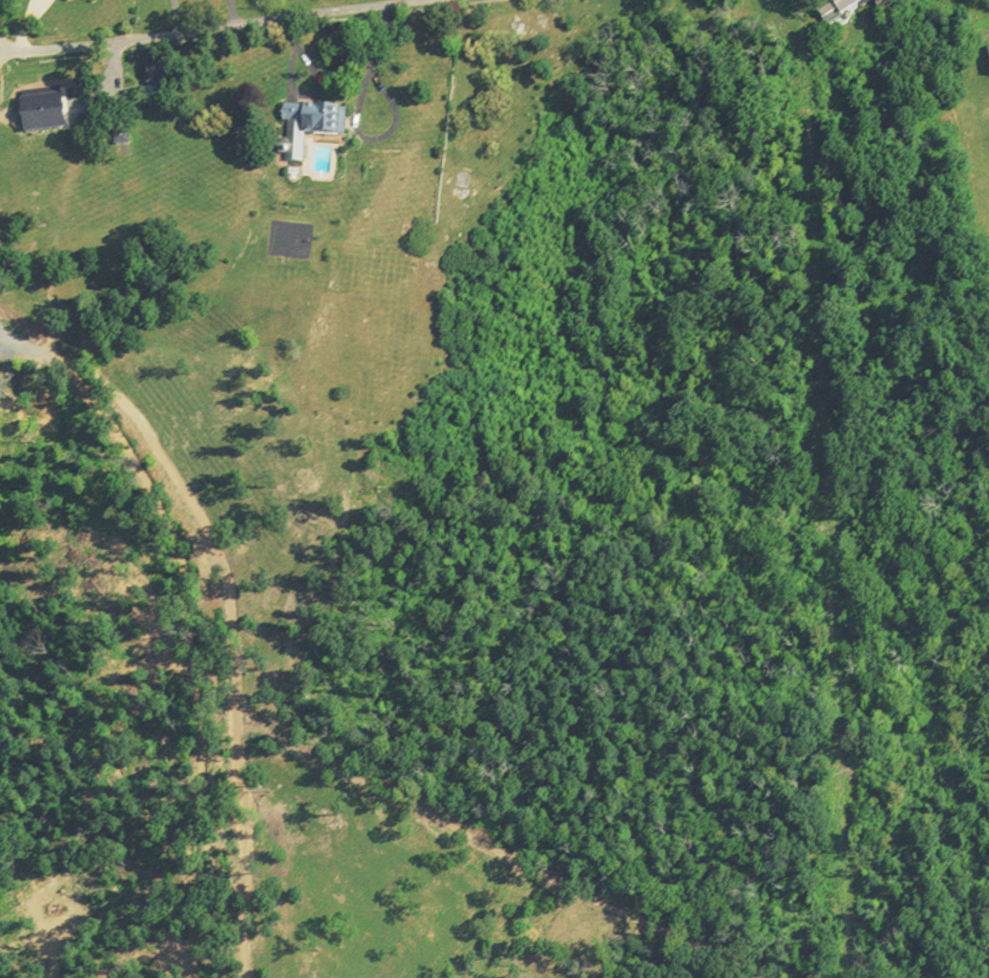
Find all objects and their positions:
building: (80, 0)
building: (833, 9)
road: (176, 18)
road: (220, 30)
building: (988, 57)
road: (295, 96)
building: (39, 115)
road: (356, 120)
building: (305, 130)

